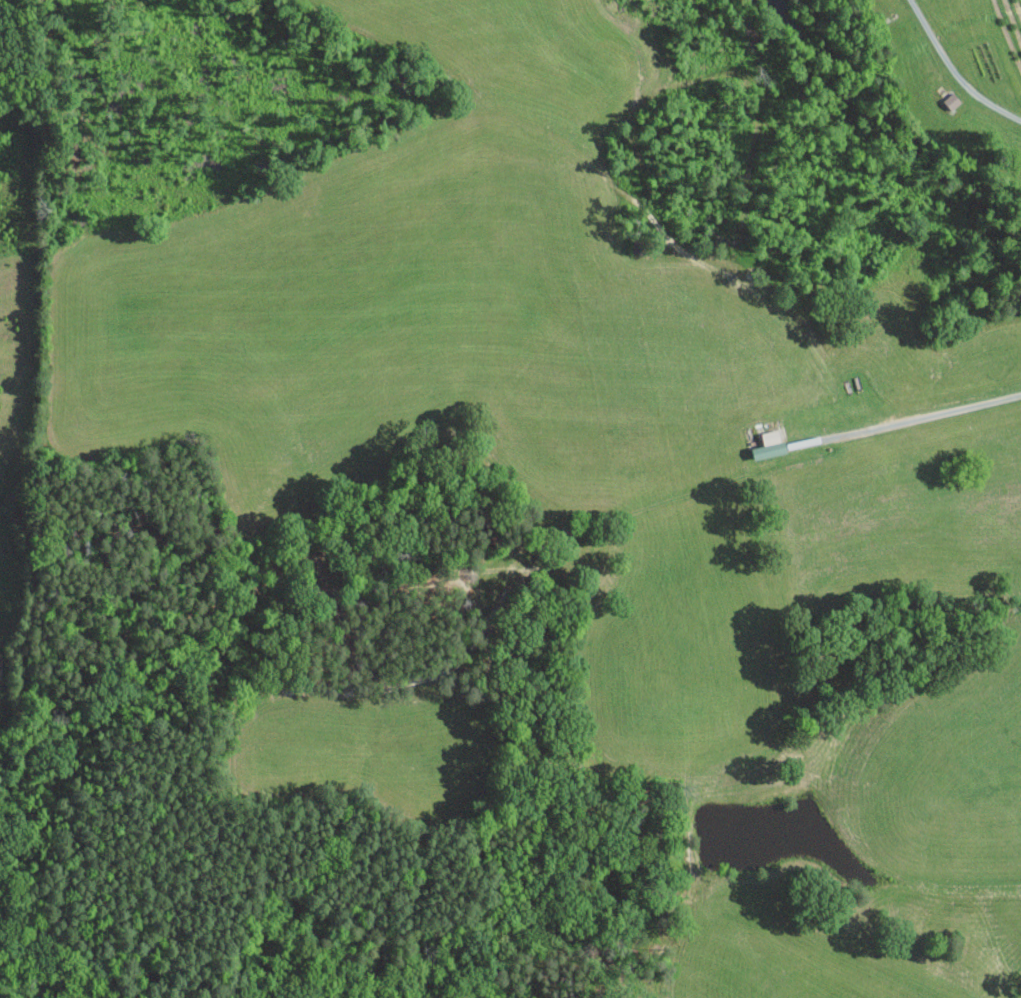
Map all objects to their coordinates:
road: (955, 70)
road: (930, 414)
building: (769, 449)

